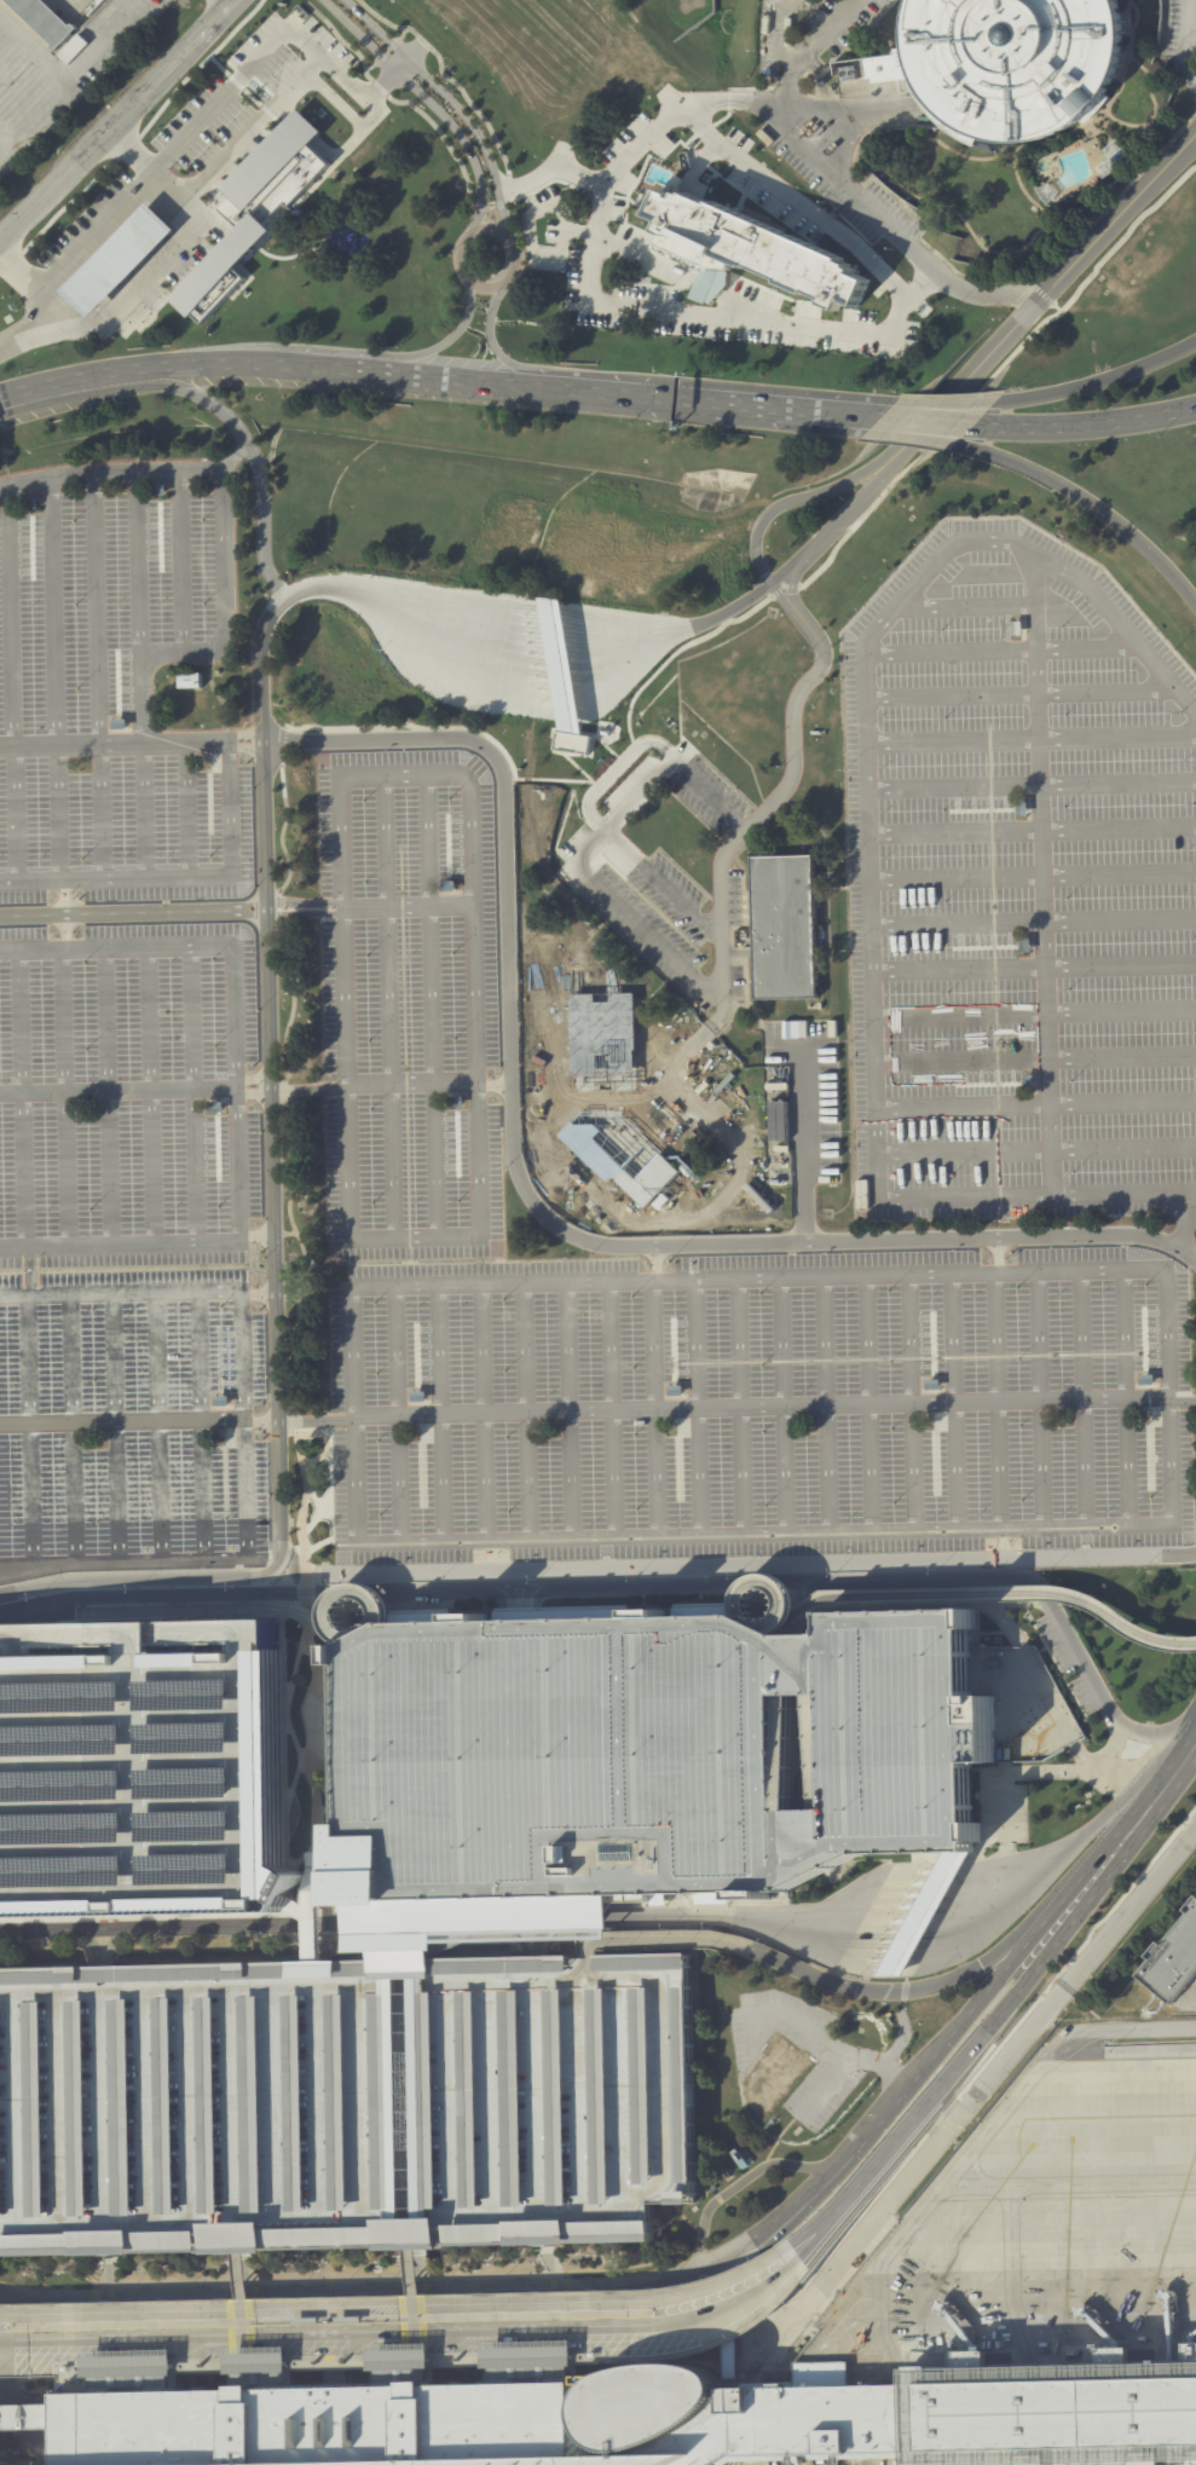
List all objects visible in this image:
road: (221, 4)
building: (45, 21)
road: (401, 34)
road: (278, 36)
road: (784, 36)
road: (340, 39)
road: (1186, 39)
parking lot: (1181, 41)
road: (809, 46)
building: (73, 47)
road: (385, 51)
building: (1012, 63)
road: (399, 64)
road: (198, 65)
road: (218, 65)
road: (370, 67)
building: (885, 67)
building: (848, 74)
road: (445, 75)
road: (345, 77)
road: (235, 81)
road: (380, 83)
road: (379, 87)
road: (252, 97)
road: (335, 100)
road: (728, 100)
road: (428, 102)
road: (450, 102)
road: (374, 105)
road: (283, 111)
road: (877, 111)
road: (267, 112)
parking lot: (825, 114)
road: (372, 120)
road: (117, 122)
road: (278, 123)
road: (831, 125)
road: (301, 128)
road: (445, 139)
road: (128, 146)
road: (340, 151)
building: (301, 156)
building: (272, 157)
building: (1120, 158)
road: (260, 160)
road: (216, 167)
road: (549, 171)
parking lot: (189, 177)
building: (281, 178)
road: (508, 186)
road: (123, 198)
building: (261, 198)
road: (68, 202)
road: (492, 206)
road: (805, 208)
road: (597, 212)
road: (123, 214)
building: (243, 217)
road: (890, 227)
road: (237, 229)
road: (528, 230)
road: (578, 231)
road: (143, 233)
road: (102, 237)
road: (247, 238)
building: (751, 248)
road: (213, 249)
road: (161, 252)
road: (456, 254)
building: (120, 256)
gas station: (120, 256)
road: (288, 256)
road: (16, 258)
road: (121, 258)
road: (80, 261)
road: (645, 262)
building: (221, 264)
road: (17, 271)
road: (139, 276)
road: (99, 279)
road: (141, 284)
building: (711, 284)
road: (921, 284)
road: (707, 290)
road: (116, 298)
road: (1039, 300)
road: (660, 308)
road: (756, 311)
road: (30, 330)
road: (444, 342)
road: (491, 342)
road: (157, 369)
road: (335, 369)
road: (993, 371)
road: (455, 379)
road: (1094, 381)
road: (585, 391)
road: (11, 397)
road: (758, 405)
road: (940, 410)
road: (221, 412)
road: (885, 416)
road: (932, 420)
road: (1085, 426)
road: (923, 429)
road: (231, 456)
building: (156, 490)
road: (791, 502)
building: (28, 503)
road: (1086, 503)
road: (844, 518)
road: (993, 541)
road: (178, 562)
road: (137, 564)
road: (782, 575)
road: (340, 583)
road: (790, 585)
road: (781, 587)
road: (226, 596)
road: (780, 596)
road: (965, 605)
road: (555, 622)
toll booth: (555, 622)
road: (672, 630)
road: (999, 648)
building: (562, 665)
road: (96, 676)
building: (514, 676)
road: (52, 679)
building: (190, 680)
road: (10, 683)
road: (1019, 693)
parking lot: (110, 703)
building: (605, 732)
building: (572, 741)
road: (70, 744)
road: (283, 745)
building: (208, 762)
road: (614, 770)
road: (559, 780)
road: (1032, 783)
building: (1022, 808)
road: (144, 809)
road: (185, 809)
road: (1033, 829)
road: (283, 830)
road: (736, 837)
road: (589, 847)
road: (1033, 873)
road: (1044, 874)
road: (177, 876)
road: (661, 884)
building: (446, 887)
parking lot: (1019, 888)
road: (278, 908)
road: (253, 911)
road: (1034, 918)
building: (785, 926)
building: (1024, 945)
road: (185, 953)
road: (873, 964)
road: (1035, 964)
road: (293, 1004)
road: (431, 1004)
road: (387, 1005)
parking lot: (410, 1005)
road: (1035, 1010)
building: (803, 1029)
building: (832, 1029)
building: (775, 1032)
building: (786, 1032)
road: (1036, 1057)
building: (1028, 1081)
road: (268, 1083)
road: (283, 1090)
road: (255, 1093)
building: (612, 1096)
road: (198, 1097)
road: (115, 1099)
road: (154, 1099)
road: (25, 1101)
road: (69, 1101)
building: (455, 1102)
road: (474, 1102)
road: (1038, 1102)
building: (214, 1108)
road: (1038, 1148)
road: (802, 1149)
road: (726, 1195)
road: (531, 1199)
building: (660, 1201)
road: (1185, 1220)
airport: (597, 1232)
road: (192, 1243)
parking lot: (129, 1246)
road: (302, 1253)
road: (1167, 1332)
building: (1144, 1379)
road: (995, 1384)
building: (929, 1385)
road: (651, 1391)
building: (674, 1391)
building: (417, 1396)
road: (1039, 1398)
road: (1079, 1398)
road: (1121, 1398)
building: (221, 1401)
road: (908, 1402)
road: (949, 1402)
parking lot: (758, 1403)
road: (865, 1403)
road: (822, 1404)
road: (695, 1405)
road: (736, 1405)
road: (779, 1405)
road: (608, 1408)
road: (566, 1409)
road: (481, 1410)
road: (524, 1410)
road: (438, 1412)
road: (394, 1413)
road: (597, 1414)
road: (289, 1421)
road: (163, 1427)
road: (203, 1427)
road: (242, 1428)
road: (75, 1430)
road: (119, 1430)
road: (34, 1431)
road: (293, 1434)
road: (327, 1441)
road: (351, 1479)
road: (324, 1507)
road: (301, 1508)
road: (330, 1508)
road: (316, 1509)
road: (998, 1543)
road: (491, 1555)
road: (759, 1563)
road: (243, 1577)
road: (848, 1580)
road: (764, 1582)
road: (33, 1586)
road: (560, 1586)
road: (306, 1591)
road: (356, 1591)
road: (166, 1594)
road: (998, 1594)
road: (538, 1607)
road: (498, 1609)
road: (992, 1609)
road: (202, 1610)
road: (36, 1613)
road: (135, 1630)
road: (212, 1630)
road: (50, 1632)
road: (77, 1634)
road: (1069, 1638)
road: (140, 1644)
road: (29, 1645)
road: (28, 1646)
road: (327, 1684)
road: (1045, 1693)
road: (313, 1730)
road: (339, 1743)
building: (647, 1754)
parking garage: (647, 1754)
road: (307, 1757)
road: (300, 1762)
road: (1109, 1767)
road: (1175, 1768)
road: (1046, 1770)
building: (139, 1784)
parking garage: (139, 1784)
road: (1103, 1817)
road: (1003, 1834)
building: (313, 1870)
road: (680, 1909)
road: (972, 1910)
building: (925, 1912)
road: (925, 1913)
toll booth: (926, 1913)
road: (763, 1915)
road: (483, 1921)
building: (312, 1923)
road: (316, 1924)
road: (337, 1924)
road: (154, 1927)
road: (314, 1928)
building: (466, 1929)
road: (1027, 1936)
road: (664, 1941)
building: (1173, 1959)
building: (643, 1962)
road: (299, 1986)
road: (915, 1990)
road: (773, 2013)
road: (986, 2032)
road: (865, 2060)
building: (775, 2072)
road: (990, 2078)
road: (830, 2082)
building: (345, 2100)
parking lot: (345, 2100)
road: (879, 2107)
airport taxiway: (1111, 2117)
road: (973, 2144)
building: (740, 2158)
road: (1073, 2175)
road: (732, 2184)
road: (751, 2234)
airport apron: (1036, 2240)
building: (100, 2242)
road: (1016, 2278)
road: (307, 2290)
road: (728, 2290)
road: (735, 2303)
road: (468, 2308)
road: (333, 2315)
road: (7, 2321)
road: (618, 2330)
road: (289, 2337)
building: (1122, 2355)
building: (975, 2359)
building: (527, 2361)
building: (399, 2365)
building: (256, 2367)
building: (128, 2371)
airport terminal: (641, 2420)
building: (641, 2420)
airport apron: (808, 2459)
road: (866, 2459)
airport terminal: (0, 2464)
building: (0, 2464)

